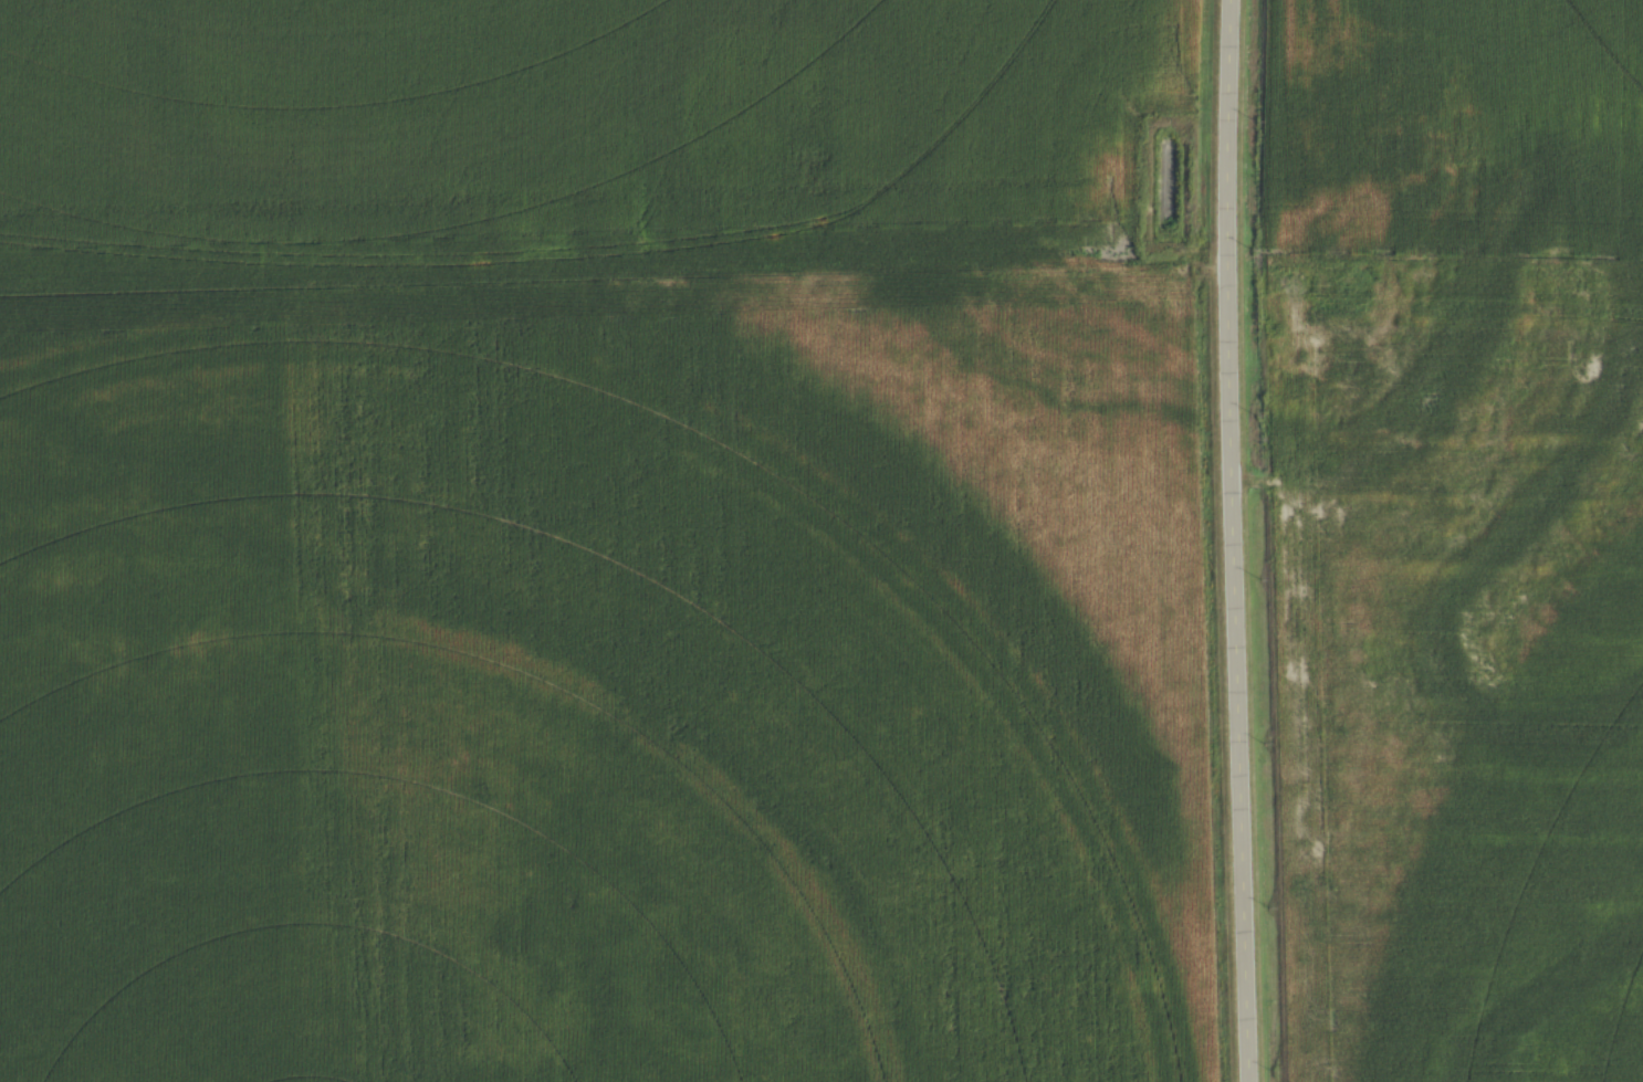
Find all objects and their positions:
road: (1234, 540)

